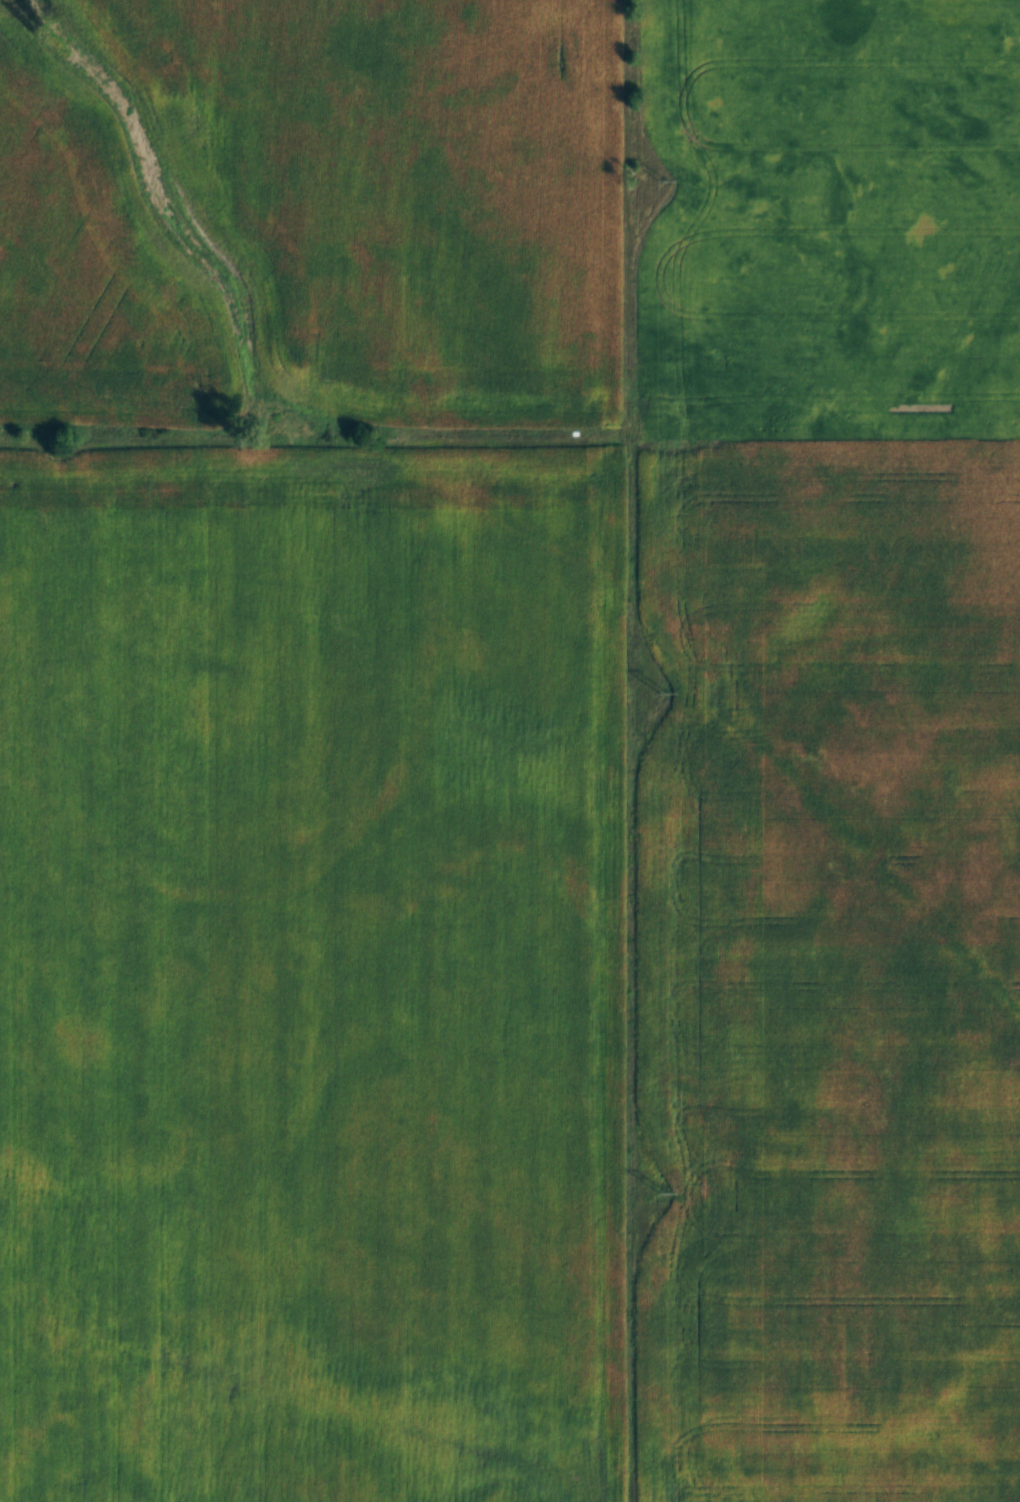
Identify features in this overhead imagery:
power tower: (665, 182)
power tower: (665, 694)
power tower: (665, 1194)

